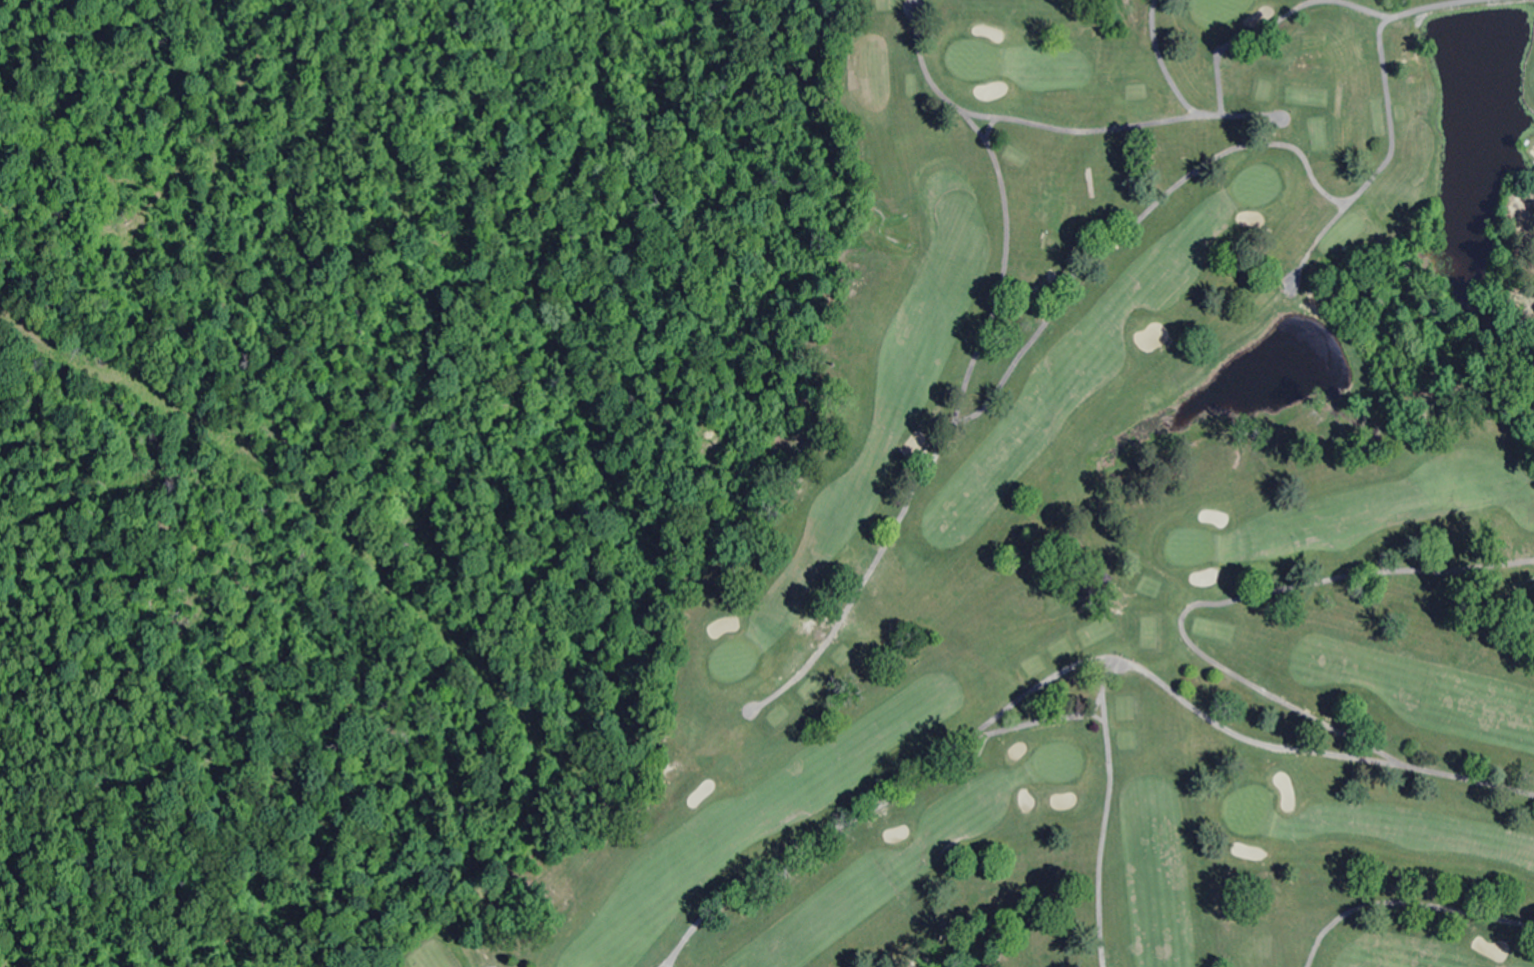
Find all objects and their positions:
park: (1079, 516)

